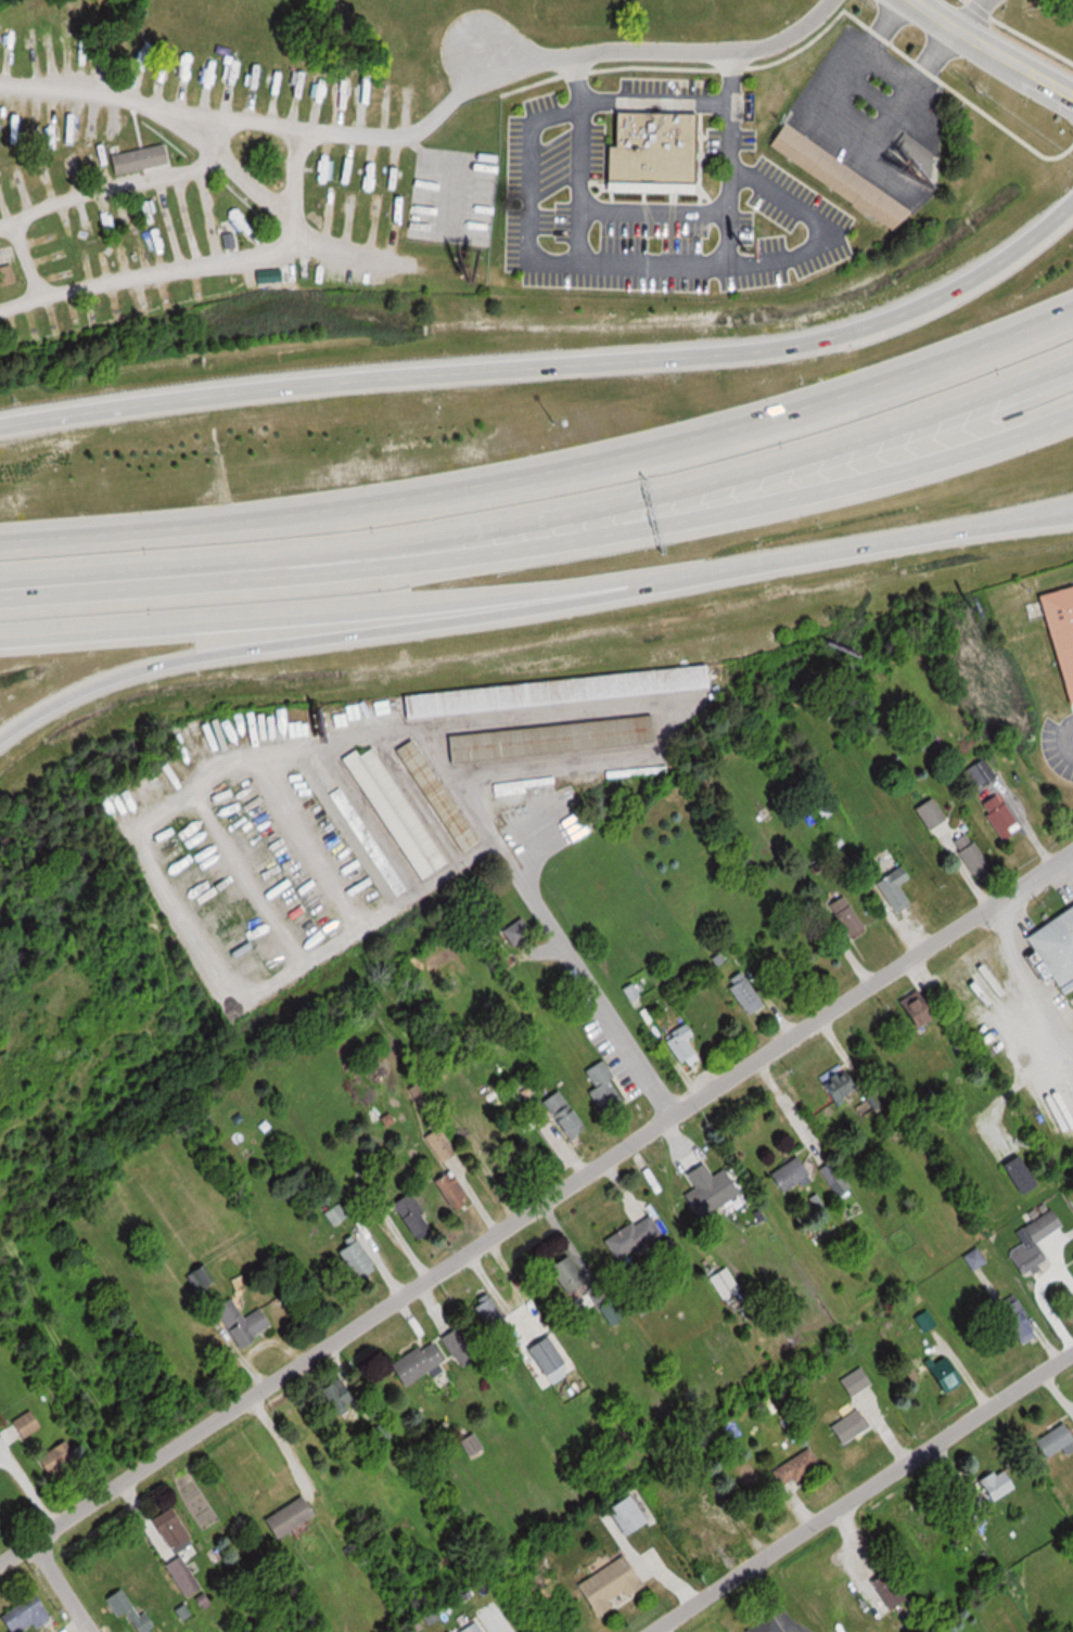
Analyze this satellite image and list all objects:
park: (999, 9)
road: (979, 15)
road: (992, 51)
road: (667, 53)
road: (655, 100)
road: (258, 121)
building: (652, 153)
building: (143, 158)
building: (840, 177)
road: (110, 187)
road: (535, 192)
building: (433, 214)
road: (653, 216)
road: (288, 218)
road: (831, 230)
building: (8, 254)
road: (202, 264)
road: (654, 267)
building: (291, 273)
building: (8, 275)
road: (553, 368)
road: (547, 485)
road: (619, 503)
road: (618, 536)
road: (75, 589)
road: (538, 593)
building: (1062, 631)
road: (337, 634)
building: (559, 698)
road: (1064, 743)
building: (555, 746)
building: (979, 772)
building: (398, 811)
building: (924, 814)
building: (369, 839)
building: (966, 857)
building: (898, 888)
building: (850, 918)
building: (520, 930)
road: (565, 949)
building: (1056, 950)
road: (1024, 973)
building: (748, 992)
building: (925, 1007)
building: (685, 1043)
building: (842, 1081)
building: (558, 1105)
building: (485, 1130)
building: (793, 1173)
building: (713, 1190)
building: (454, 1191)
road: (536, 1204)
building: (337, 1215)
building: (416, 1218)
building: (636, 1237)
building: (1029, 1242)
building: (360, 1259)
building: (1012, 1321)
building: (247, 1323)
building: (205, 1324)
building: (463, 1347)
building: (551, 1357)
building: (421, 1363)
building: (859, 1380)
building: (30, 1423)
building: (852, 1427)
building: (1051, 1441)
building: (474, 1443)
building: (61, 1457)
building: (799, 1468)
building: (989, 1483)
road: (860, 1491)
building: (633, 1514)
building: (293, 1516)
building: (727, 1524)
building: (176, 1529)
building: (184, 1576)
building: (615, 1584)
road: (64, 1585)
building: (882, 1589)
building: (131, 1610)
building: (29, 1615)
building: (761, 1625)
building: (475, 1628)

